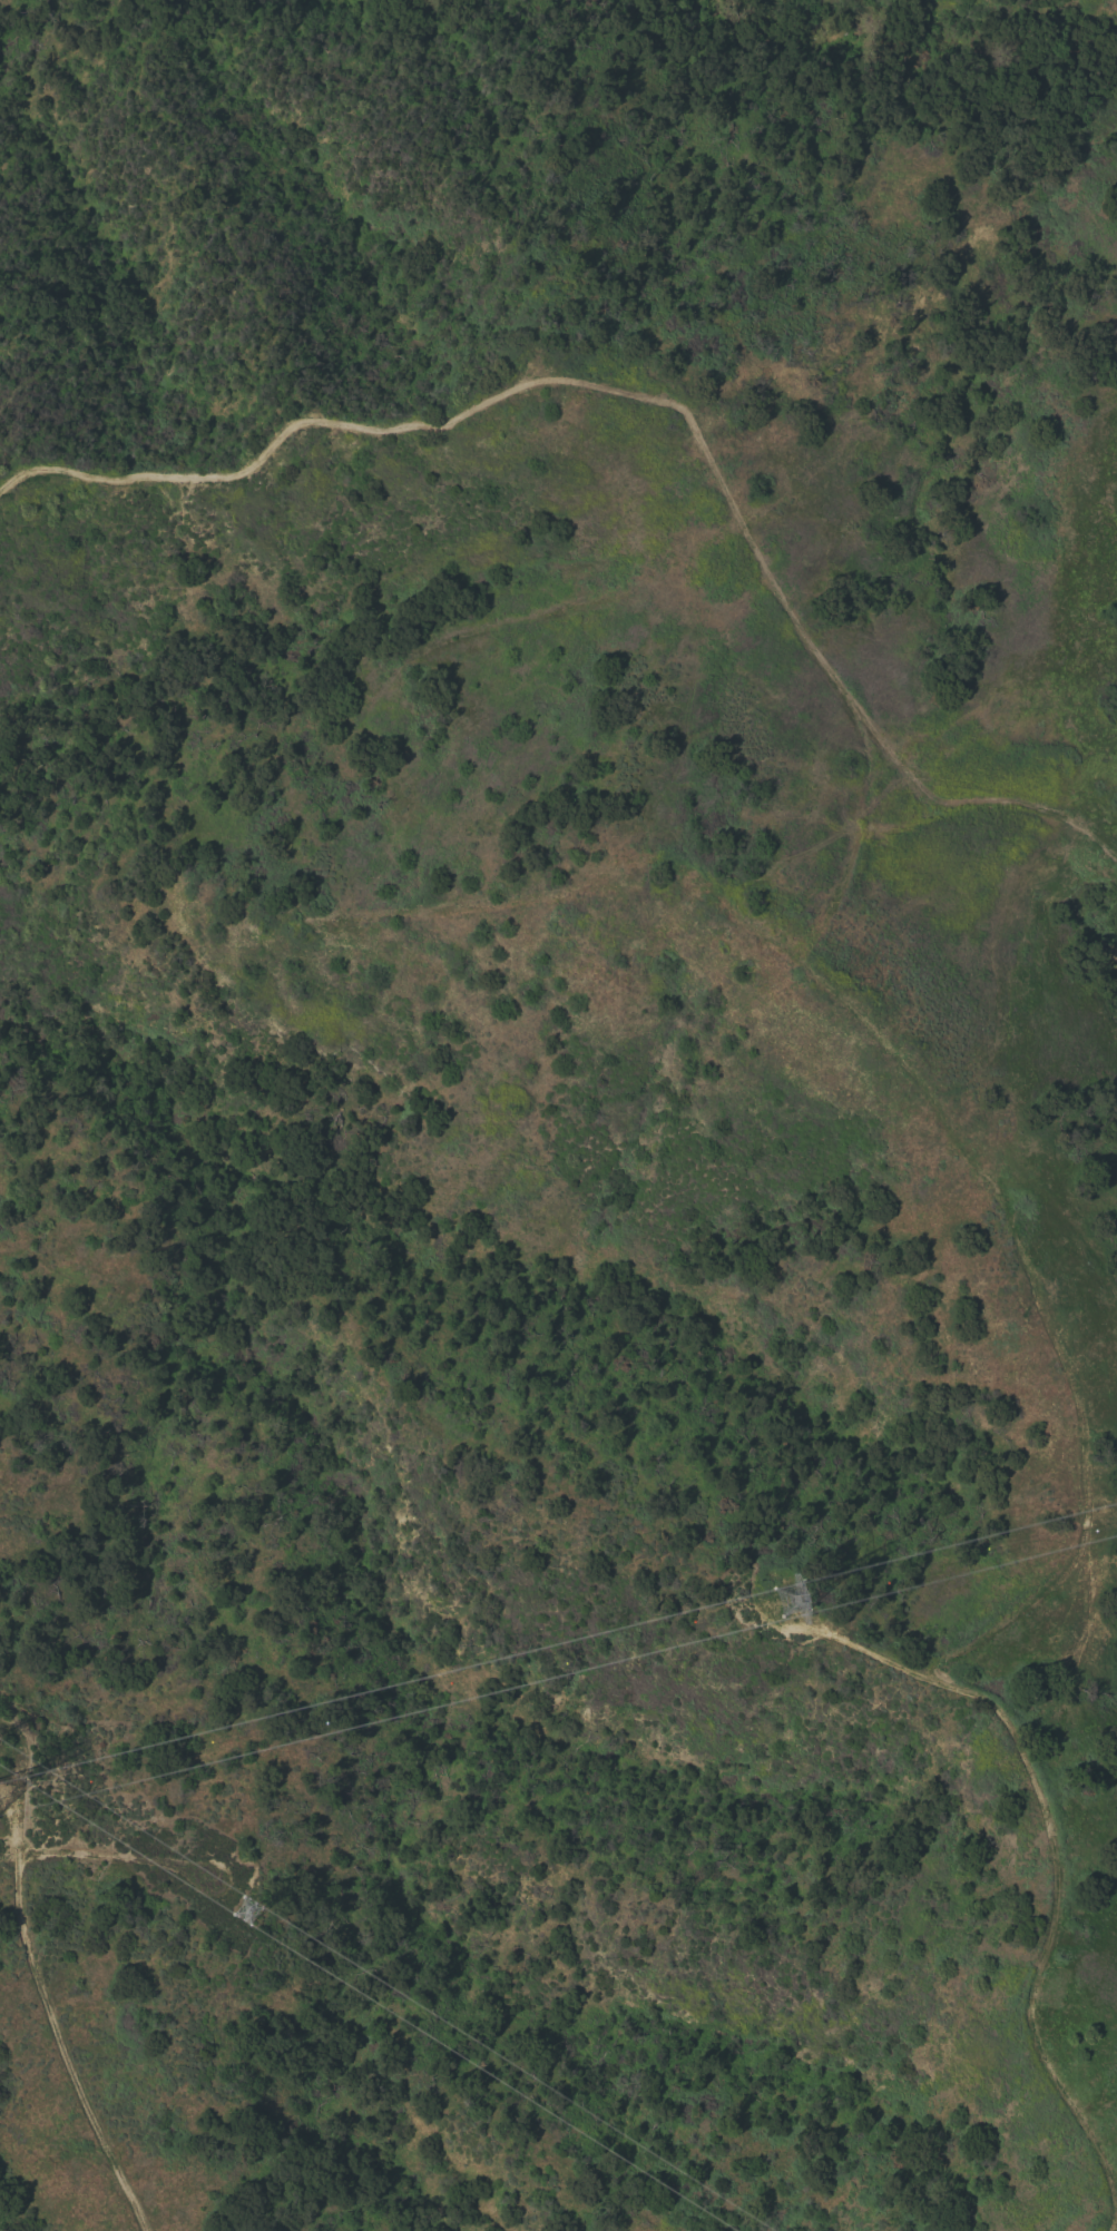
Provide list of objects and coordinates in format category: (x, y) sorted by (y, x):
power tower: (780, 1599)
power tower: (183, 1869)
road: (49, 2026)

